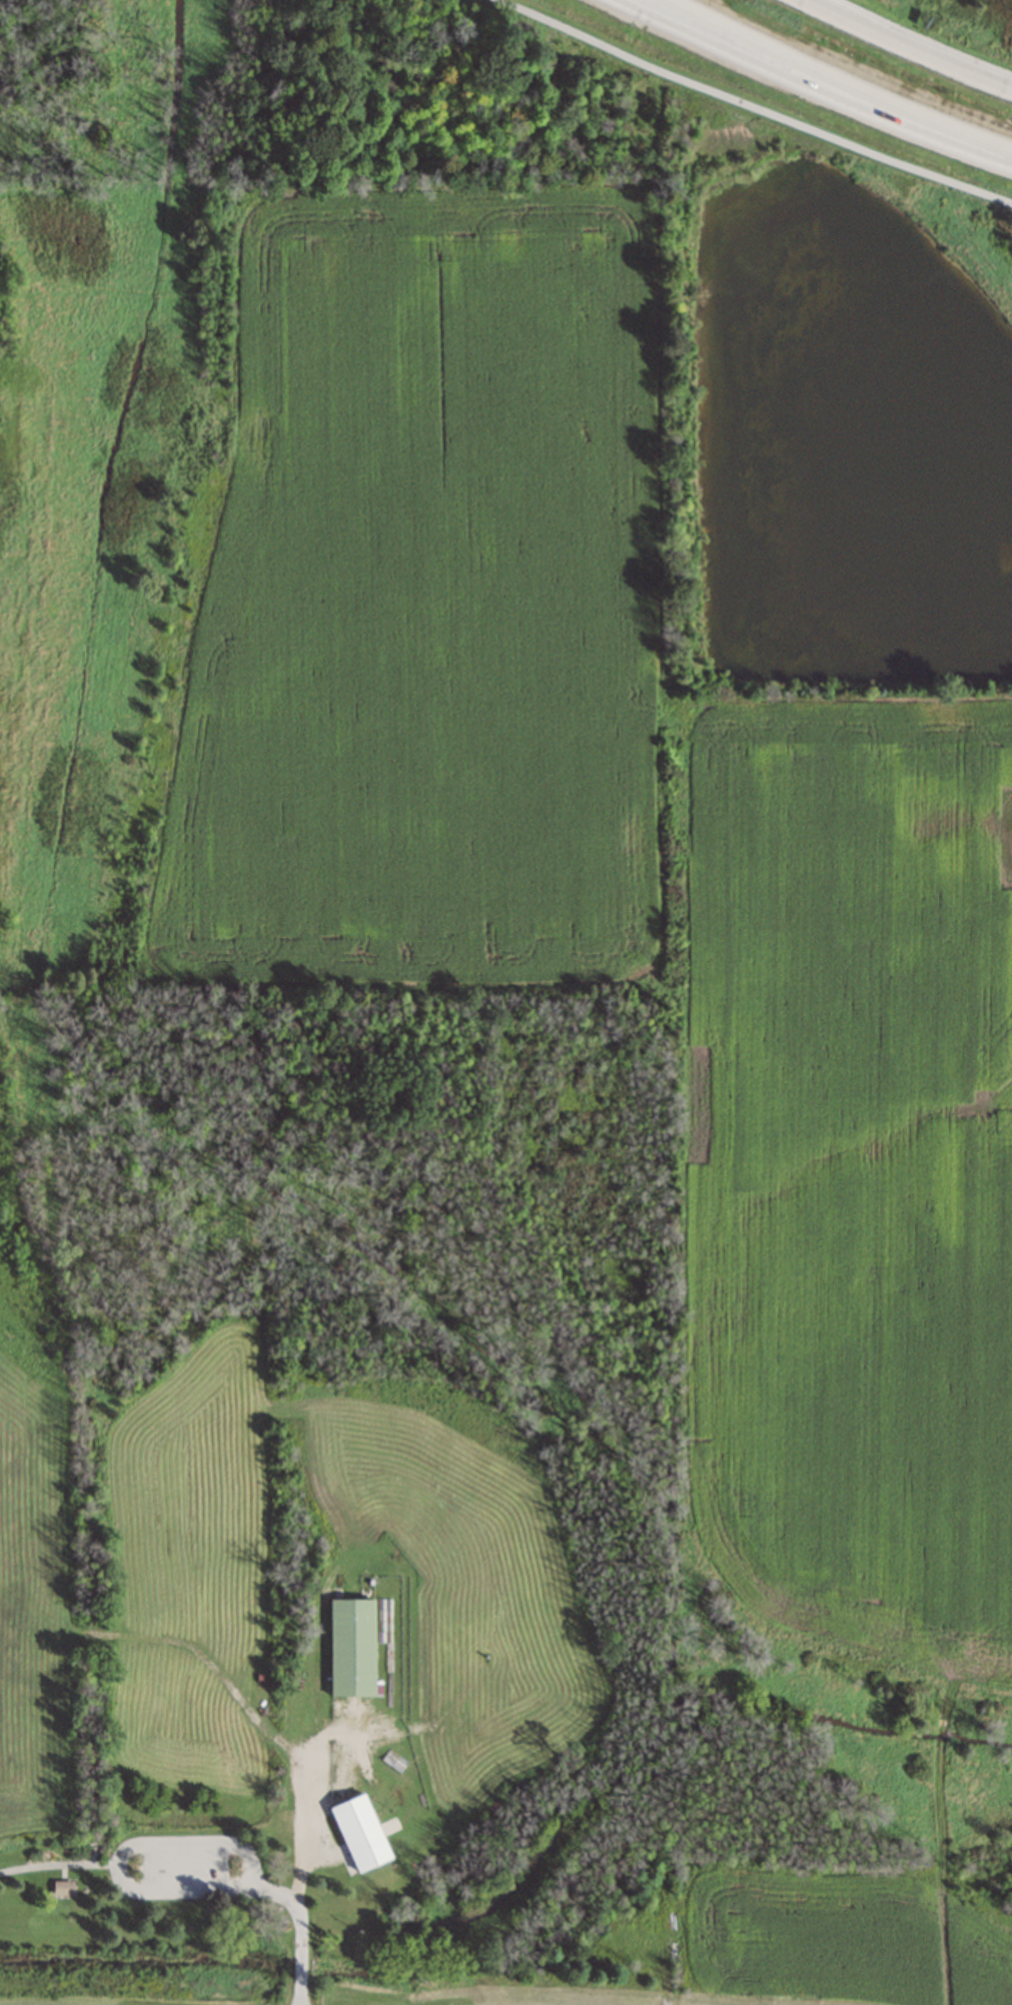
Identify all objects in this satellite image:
road: (906, 46)
road: (836, 79)
road: (813, 87)
road: (749, 104)
building: (350, 1647)
road: (302, 1799)
building: (359, 1833)
road: (116, 1855)
road: (56, 1864)
building: (62, 1888)
road: (299, 1927)

